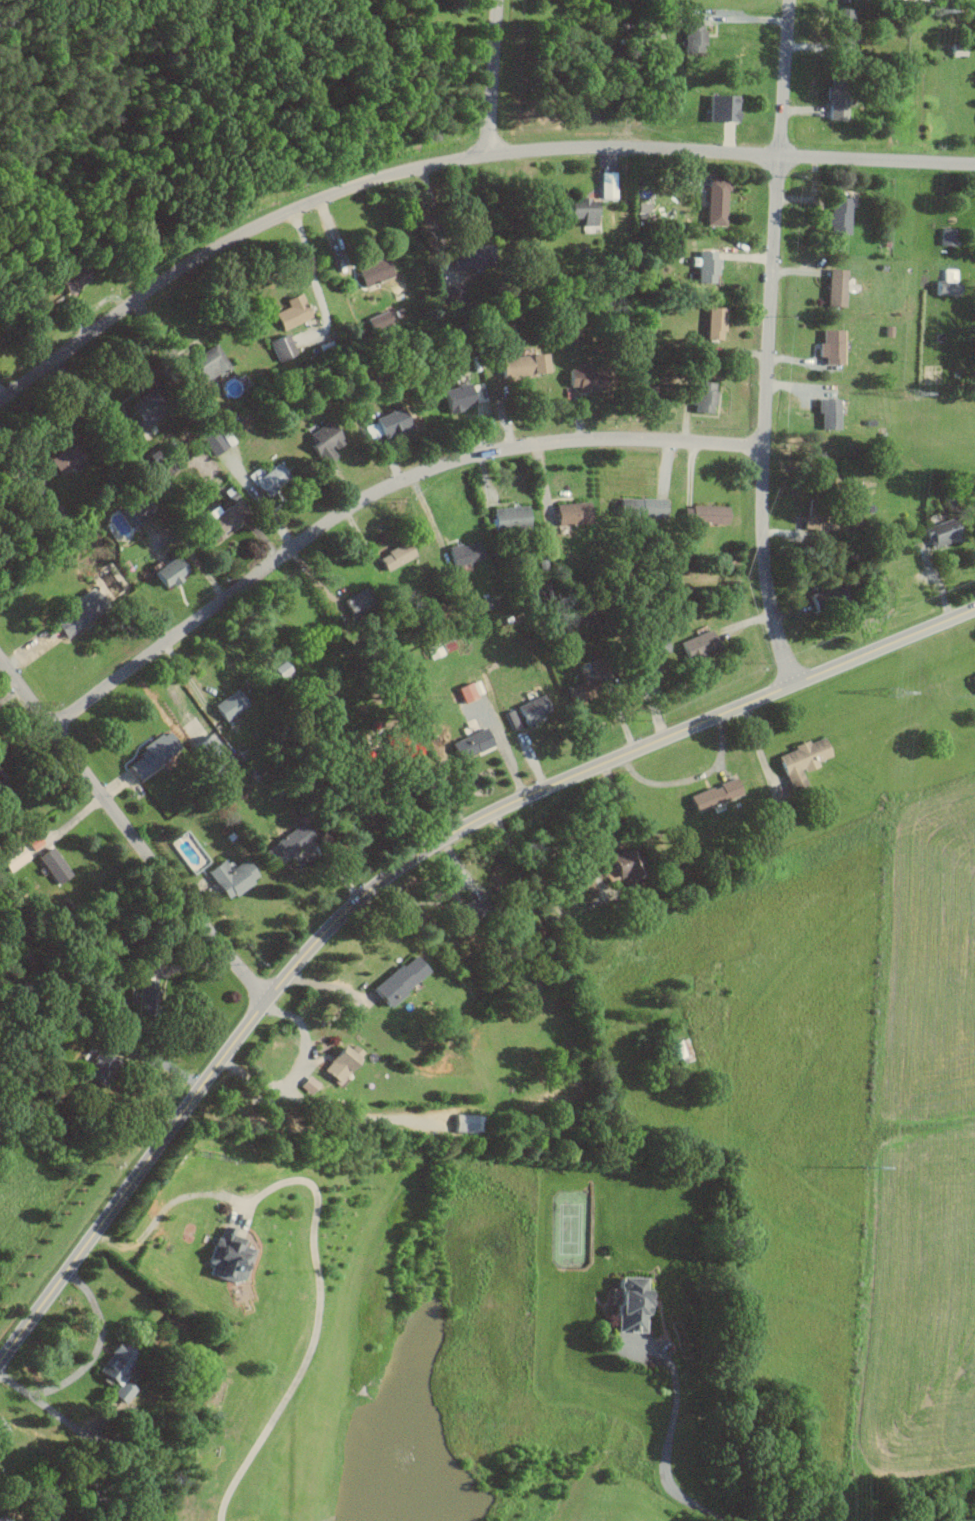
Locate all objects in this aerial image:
power tower: (935, 11)
road: (740, 17)
building: (843, 26)
building: (691, 36)
building: (956, 49)
road: (492, 78)
building: (834, 104)
building: (720, 107)
road: (453, 156)
building: (605, 184)
building: (714, 202)
building: (640, 206)
building: (580, 210)
road: (431, 211)
building: (836, 215)
building: (946, 236)
building: (467, 255)
building: (705, 266)
building: (371, 271)
road: (312, 272)
building: (73, 277)
building: (946, 283)
building: (833, 286)
building: (289, 312)
building: (713, 322)
road: (768, 342)
building: (279, 346)
building: (829, 346)
building: (206, 363)
building: (520, 364)
building: (583, 378)
road: (81, 394)
power tower: (913, 394)
building: (702, 396)
building: (456, 397)
building: (827, 413)
building: (139, 421)
building: (384, 424)
building: (322, 442)
building: (61, 459)
building: (267, 477)
building: (32, 489)
road: (374, 494)
building: (638, 507)
building: (135, 510)
building: (569, 513)
building: (703, 514)
building: (508, 517)
building: (219, 518)
building: (810, 521)
building: (940, 532)
building: (462, 552)
building: (393, 555)
building: (165, 572)
building: (354, 603)
building: (76, 612)
building: (696, 644)
building: (648, 652)
building: (972, 680)
building: (464, 692)
power tower: (893, 695)
building: (227, 704)
building: (525, 712)
building: (193, 728)
building: (395, 736)
building: (468, 743)
building: (151, 753)
building: (799, 762)
road: (420, 791)
building: (714, 794)
road: (129, 832)
building: (286, 843)
building: (31, 844)
road: (574, 850)
building: (12, 858)
building: (51, 865)
road: (399, 869)
building: (623, 869)
building: (229, 877)
road: (442, 895)
building: (396, 980)
building: (143, 991)
building: (674, 1049)
building: (336, 1063)
road: (297, 1070)
road: (356, 1118)
building: (466, 1123)
power tower: (868, 1167)
road: (162, 1216)
building: (224, 1254)
building: (626, 1303)
road: (317, 1325)
road: (88, 1359)
building: (112, 1361)
building: (119, 1391)
road: (666, 1447)
building: (2, 1518)

